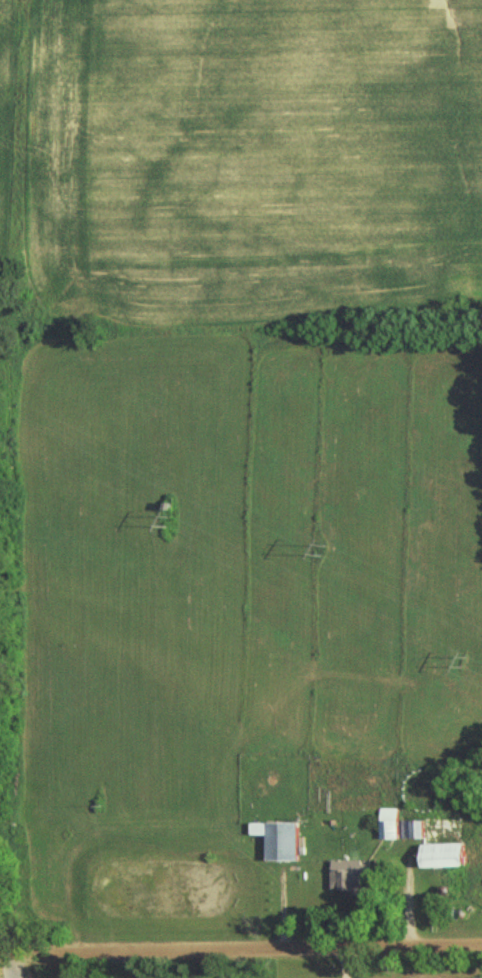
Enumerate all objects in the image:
power tower: (326, 548)
power tower: (469, 676)
building: (429, 790)
building: (407, 824)
building: (284, 837)
building: (452, 854)
building: (357, 875)
road: (241, 944)
road: (13, 961)
road: (346, 961)

